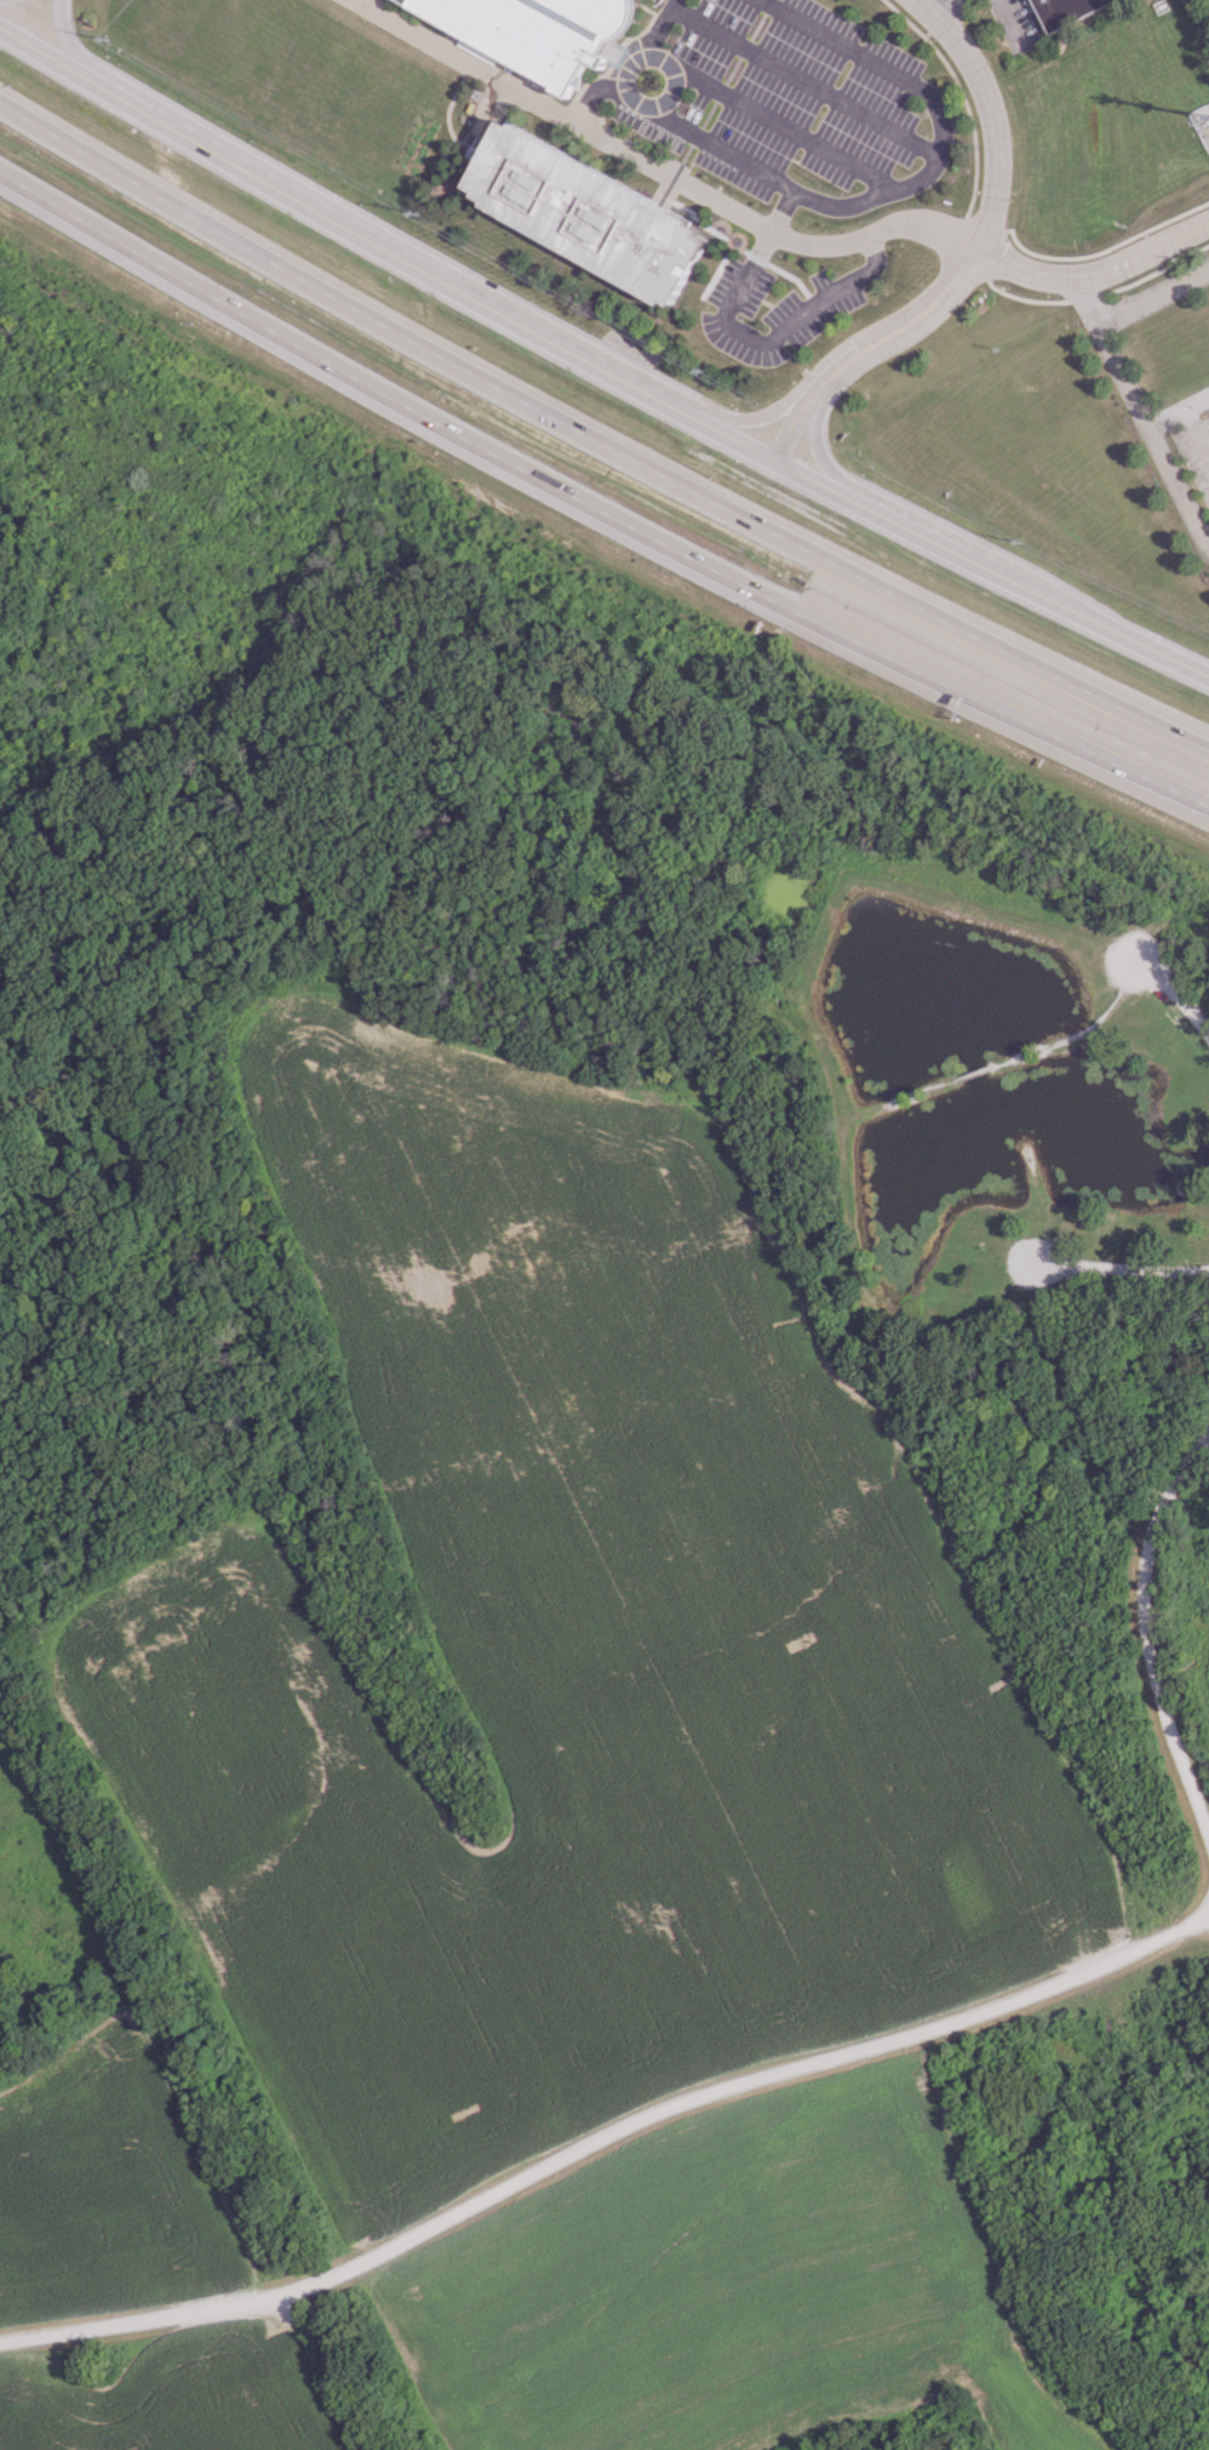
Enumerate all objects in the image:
road: (367, 4)
road: (942, 10)
building: (1064, 10)
building: (532, 32)
road: (67, 38)
road: (993, 118)
road: (659, 167)
road: (916, 178)
building: (588, 213)
road: (230, 238)
road: (1099, 267)
road: (1153, 293)
road: (1085, 297)
road: (214, 298)
road: (904, 316)
road: (757, 338)
road: (596, 365)
road: (1196, 401)
road: (775, 410)
road: (1165, 416)
road: (1152, 435)
road: (1196, 435)
road: (814, 440)
road: (833, 562)
road: (816, 621)
dam: (961, 915)
parking lot: (1135, 963)
road: (1176, 998)
road: (1076, 1033)
road: (972, 1072)
road: (904, 1097)
parking lot: (1036, 1262)
road: (1119, 1268)
road: (1141, 1632)
road: (603, 2137)

